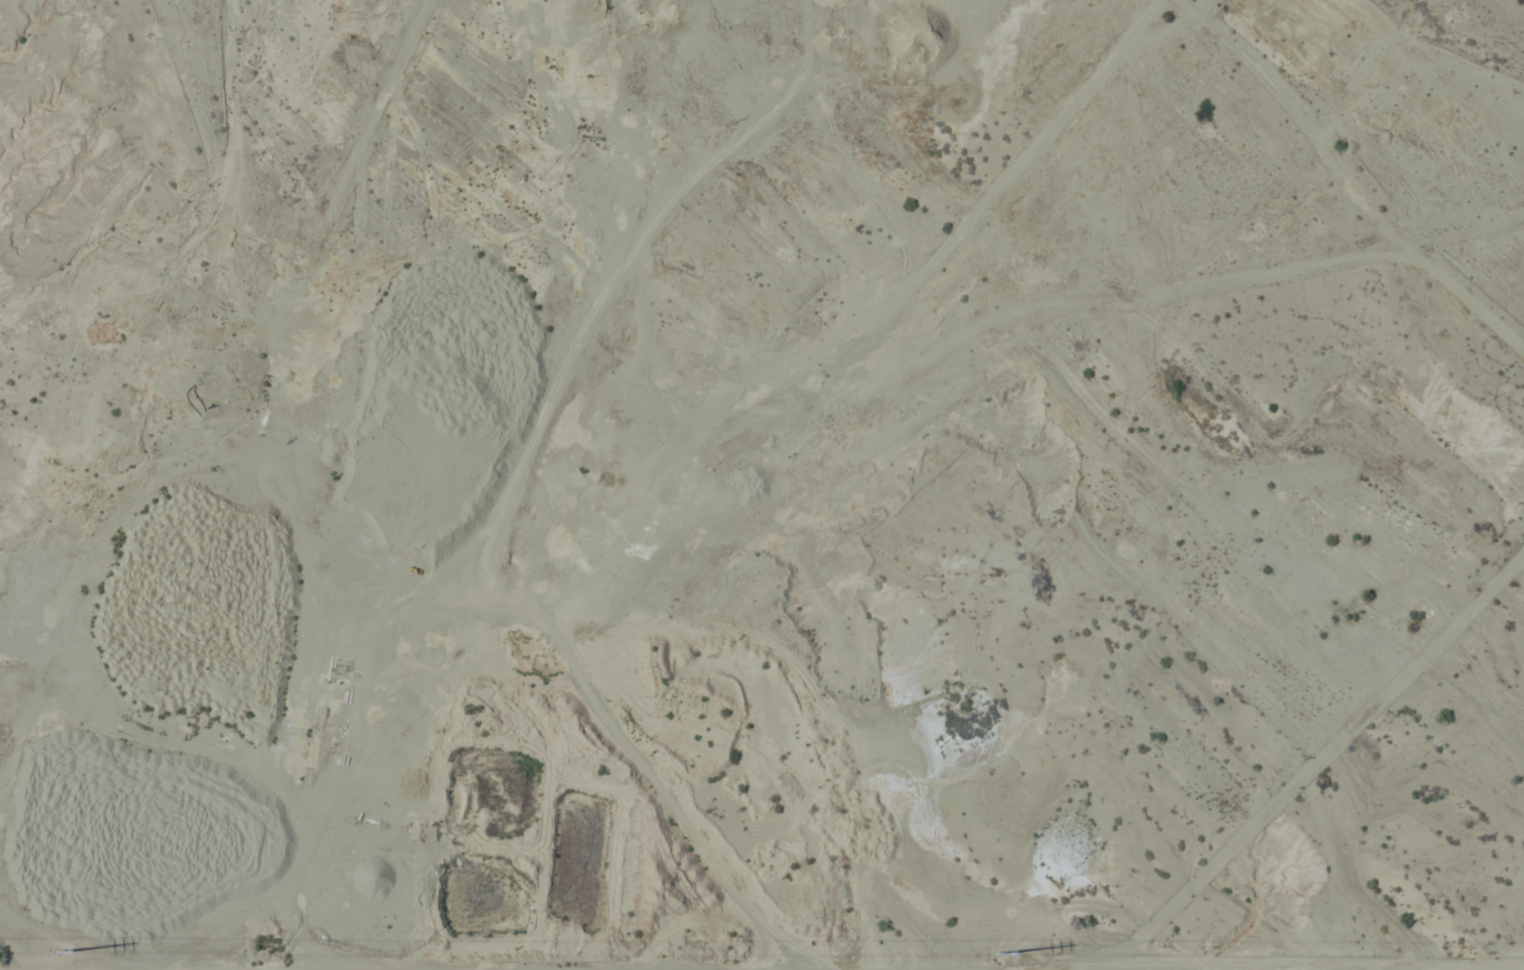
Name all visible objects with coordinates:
road: (434, 950)
power tower: (74, 963)
power tower: (1009, 967)

